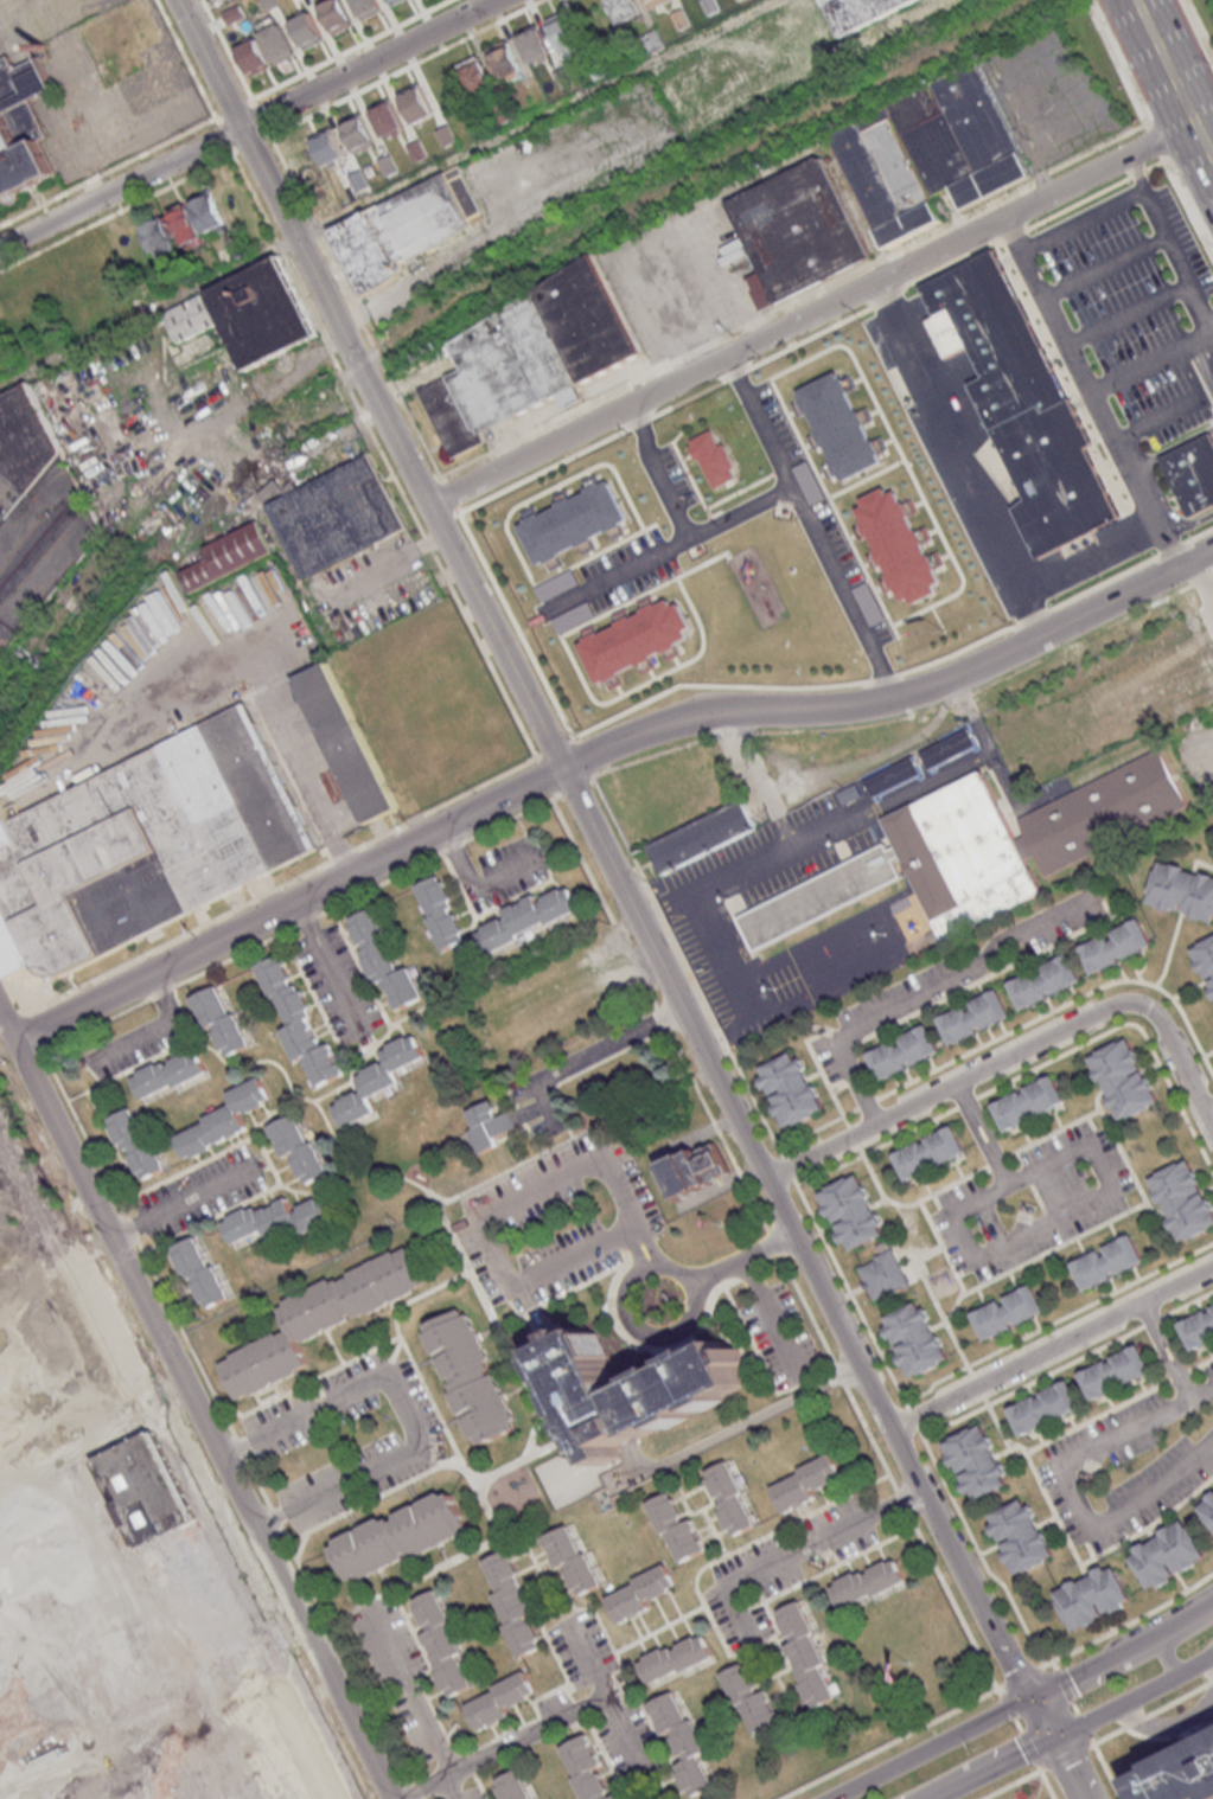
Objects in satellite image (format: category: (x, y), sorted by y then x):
building: (392, 0)
road: (197, 7)
building: (623, 9)
building: (858, 12)
road: (1199, 26)
building: (564, 34)
building: (532, 45)
road: (1167, 60)
building: (504, 62)
road: (366, 64)
building: (23, 126)
road: (1150, 128)
road: (1205, 137)
building: (928, 152)
road: (1136, 173)
road: (120, 187)
road: (388, 197)
building: (208, 211)
road: (1081, 219)
building: (185, 228)
building: (797, 229)
building: (158, 236)
building: (410, 236)
road: (1177, 263)
road: (1104, 265)
road: (1046, 303)
road: (372, 306)
road: (812, 313)
road: (1126, 314)
building: (242, 322)
road: (1211, 327)
road: (1211, 328)
road: (1205, 351)
building: (516, 361)
road: (1200, 366)
road: (1187, 372)
building: (1021, 403)
road: (1105, 418)
road: (1157, 418)
road: (760, 420)
building: (838, 428)
road: (1171, 447)
road: (959, 456)
building: (713, 459)
building: (1192, 472)
building: (809, 482)
road: (779, 491)
building: (570, 518)
building: (36, 520)
building: (338, 524)
road: (1186, 524)
building: (899, 544)
building: (230, 556)
road: (1090, 556)
road: (389, 561)
road: (617, 572)
building: (555, 585)
road: (1206, 585)
building: (868, 603)
road: (1075, 616)
building: (633, 639)
building: (345, 742)
building: (947, 747)
road: (295, 757)
building: (893, 775)
road: (755, 777)
building: (850, 793)
road: (849, 815)
road: (465, 817)
building: (1026, 832)
building: (700, 836)
building: (146, 847)
road: (612, 870)
road: (474, 888)
building: (1182, 890)
building: (824, 903)
building: (442, 913)
building: (530, 916)
building: (1116, 946)
building: (384, 960)
building: (1205, 960)
road: (328, 968)
building: (1047, 982)
road: (745, 984)
road: (925, 994)
building: (975, 1017)
building: (221, 1019)
building: (299, 1023)
road: (152, 1026)
building: (904, 1054)
road: (1017, 1055)
road: (587, 1056)
building: (170, 1073)
building: (1125, 1078)
building: (378, 1080)
building: (791, 1088)
building: (1029, 1103)
road: (1207, 1114)
building: (224, 1120)
building: (489, 1126)
road: (982, 1135)
building: (136, 1144)
building: (299, 1147)
building: (930, 1153)
road: (576, 1167)
building: (696, 1169)
road: (995, 1189)
building: (1185, 1198)
road: (183, 1201)
building: (851, 1212)
road: (1067, 1214)
building: (279, 1218)
road: (652, 1249)
road: (634, 1253)
road: (741, 1259)
building: (1109, 1262)
road: (536, 1273)
building: (202, 1274)
building: (882, 1276)
building: (1009, 1313)
road: (771, 1315)
building: (321, 1318)
building: (1198, 1330)
road: (652, 1336)
building: (915, 1339)
road: (1052, 1350)
road: (1166, 1350)
building: (1115, 1372)
building: (470, 1376)
building: (639, 1389)
road: (194, 1402)
road: (403, 1407)
building: (1045, 1409)
road: (736, 1425)
road: (1136, 1426)
building: (978, 1457)
building: (807, 1481)
building: (730, 1498)
road: (1124, 1504)
building: (1208, 1507)
building: (677, 1528)
building: (398, 1536)
building: (1024, 1536)
road: (797, 1549)
building: (1170, 1551)
building: (573, 1560)
building: (868, 1582)
building: (643, 1592)
building: (1094, 1594)
building: (513, 1600)
road: (1129, 1627)
building: (443, 1644)
road: (1166, 1644)
building: (134, 1648)
building: (807, 1657)
building: (676, 1658)
road: (1023, 1679)
road: (408, 1688)
building: (751, 1697)
road: (1135, 1697)
building: (499, 1699)
traffic signals: (1033, 1701)
road: (1023, 1704)
road: (1074, 1705)
road: (1167, 1726)
road: (536, 1727)
road: (624, 1728)
traffic signals: (1055, 1736)
building: (683, 1740)
road: (896, 1743)
road: (996, 1767)
road: (1070, 1767)
building: (587, 1769)
building: (1181, 1774)
road: (453, 1785)
building: (512, 1786)

